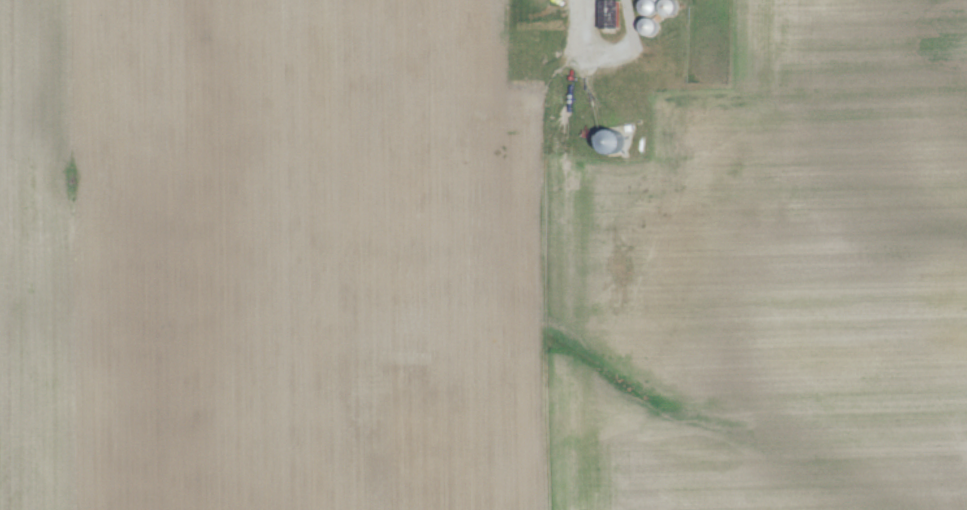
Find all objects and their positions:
building: (610, 13)
road: (608, 53)

